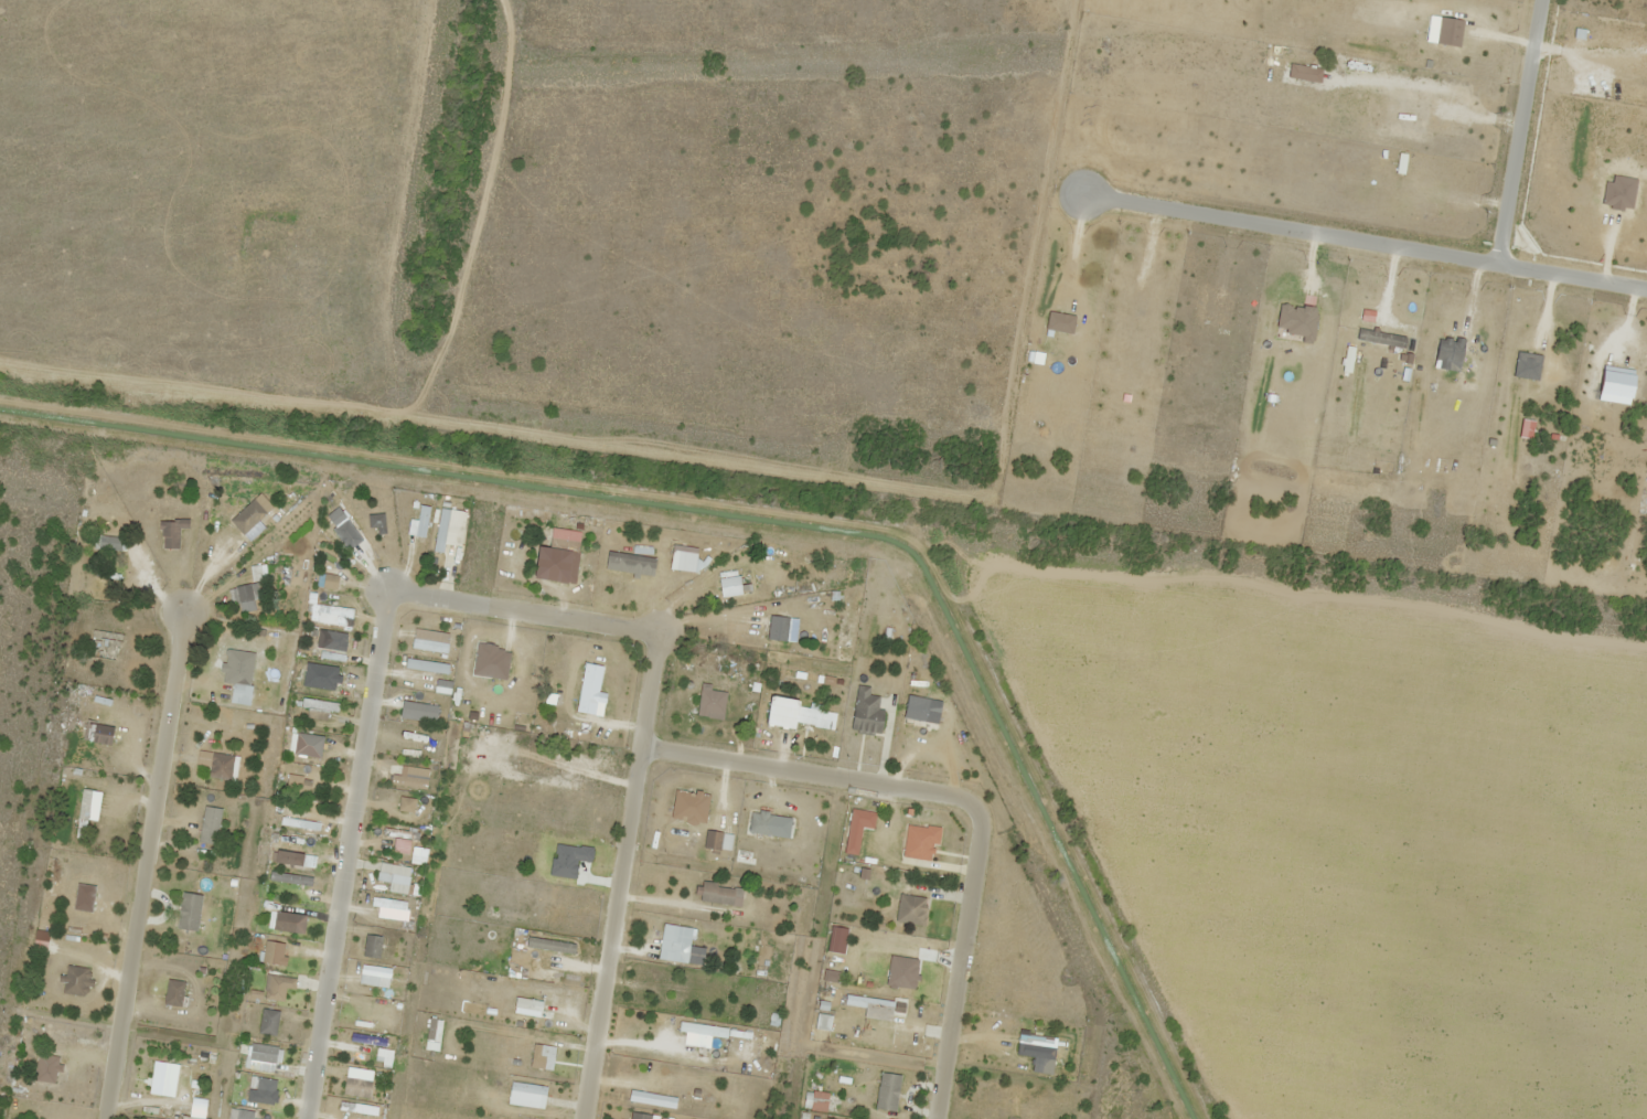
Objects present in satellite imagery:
road: (1518, 131)
road: (485, 212)
road: (1363, 239)
road: (492, 428)
building: (385, 522)
building: (440, 529)
building: (171, 532)
building: (213, 533)
building: (107, 542)
building: (568, 563)
building: (108, 579)
building: (243, 592)
road: (499, 608)
building: (443, 637)
building: (331, 640)
building: (239, 693)
building: (865, 712)
building: (919, 718)
building: (531, 760)
building: (220, 766)
road: (963, 798)
building: (84, 813)
building: (298, 823)
building: (398, 833)
building: (919, 841)
building: (781, 844)
building: (295, 848)
building: (560, 849)
road: (145, 862)
building: (392, 878)
building: (56, 888)
building: (719, 894)
building: (387, 906)
building: (910, 909)
building: (188, 910)
building: (506, 915)
building: (41, 928)
building: (678, 942)
building: (549, 945)
building: (75, 980)
building: (676, 982)
building: (277, 987)
building: (774, 991)
building: (172, 992)
building: (544, 998)
building: (867, 1002)
building: (267, 1021)
building: (700, 1029)
building: (749, 1051)
building: (261, 1053)
building: (539, 1055)
building: (158, 1078)
building: (259, 1085)
building: (526, 1087)
building: (887, 1091)
building: (651, 1098)
building: (356, 1108)
building: (244, 1113)
building: (638, 1116)

